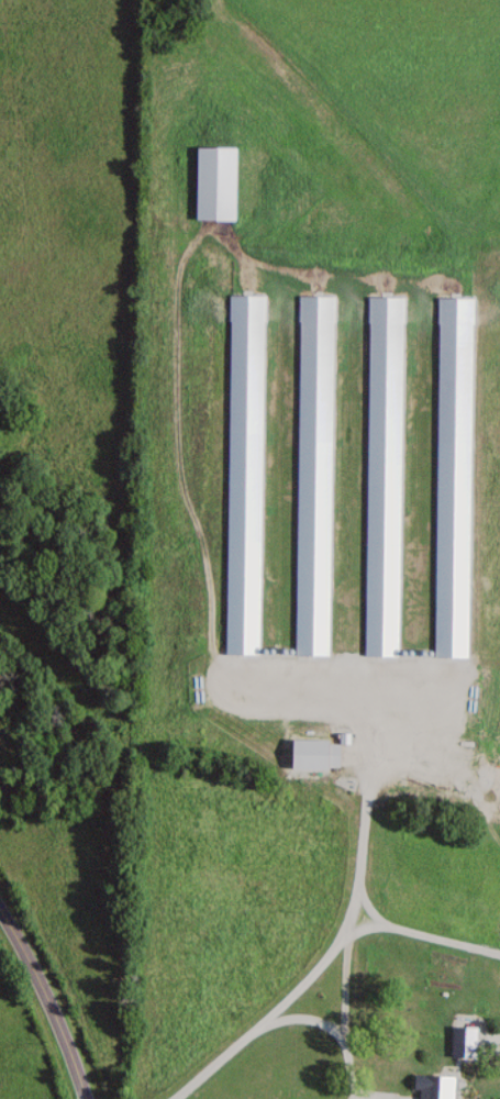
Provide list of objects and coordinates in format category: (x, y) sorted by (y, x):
road: (364, 817)
road: (320, 965)
road: (49, 998)
road: (337, 1024)
road: (465, 1059)
building: (387, 1072)
building: (484, 1073)

